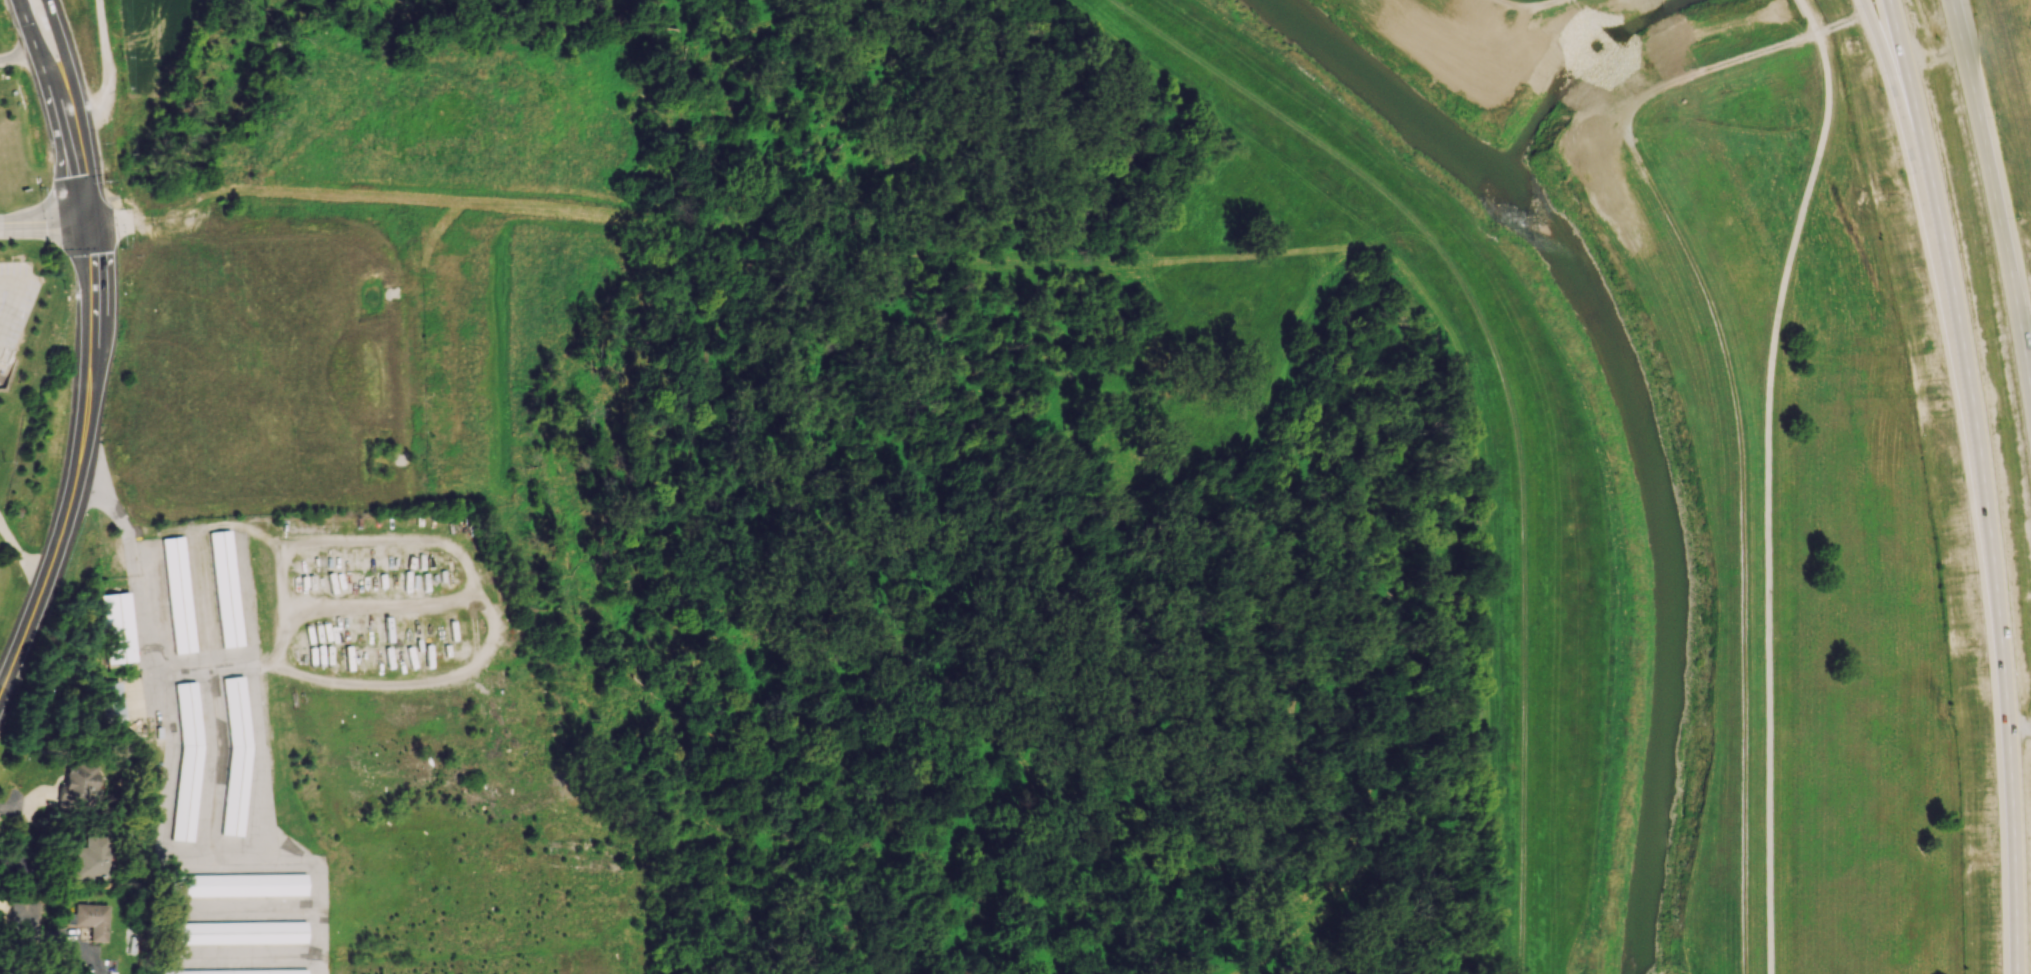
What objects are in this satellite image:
road: (1527, 6)
road: (603, 19)
road: (27, 25)
road: (22, 45)
road: (1887, 56)
road: (1931, 59)
road: (104, 67)
river: (1383, 92)
road: (316, 107)
road: (77, 110)
road: (1091, 131)
road: (62, 137)
road: (1996, 192)
road: (188, 200)
road: (519, 204)
road: (66, 225)
traffic signals: (87, 225)
road: (1408, 229)
road: (1422, 241)
road: (1338, 252)
road: (1241, 261)
road: (949, 262)
road: (1188, 263)
road: (1137, 268)
road: (1231, 275)
road: (1251, 275)
road: (91, 279)
road: (8, 284)
road: (8, 303)
parking lot: (14, 304)
road: (1506, 397)
road: (1734, 410)
road: (1769, 480)
road: (1983, 482)
road: (960, 504)
road: (64, 517)
road: (694, 527)
river: (1674, 550)
road: (20, 554)
building: (224, 588)
building: (177, 594)
road: (139, 617)
building: (118, 628)
road: (1288, 680)
building: (112, 703)
road: (2021, 731)
building: (235, 757)
building: (187, 761)
building: (75, 784)
building: (90, 858)
road: (871, 868)
building: (234, 884)
building: (3, 910)
building: (90, 919)
building: (233, 931)
road: (60, 937)
building: (237, 971)

